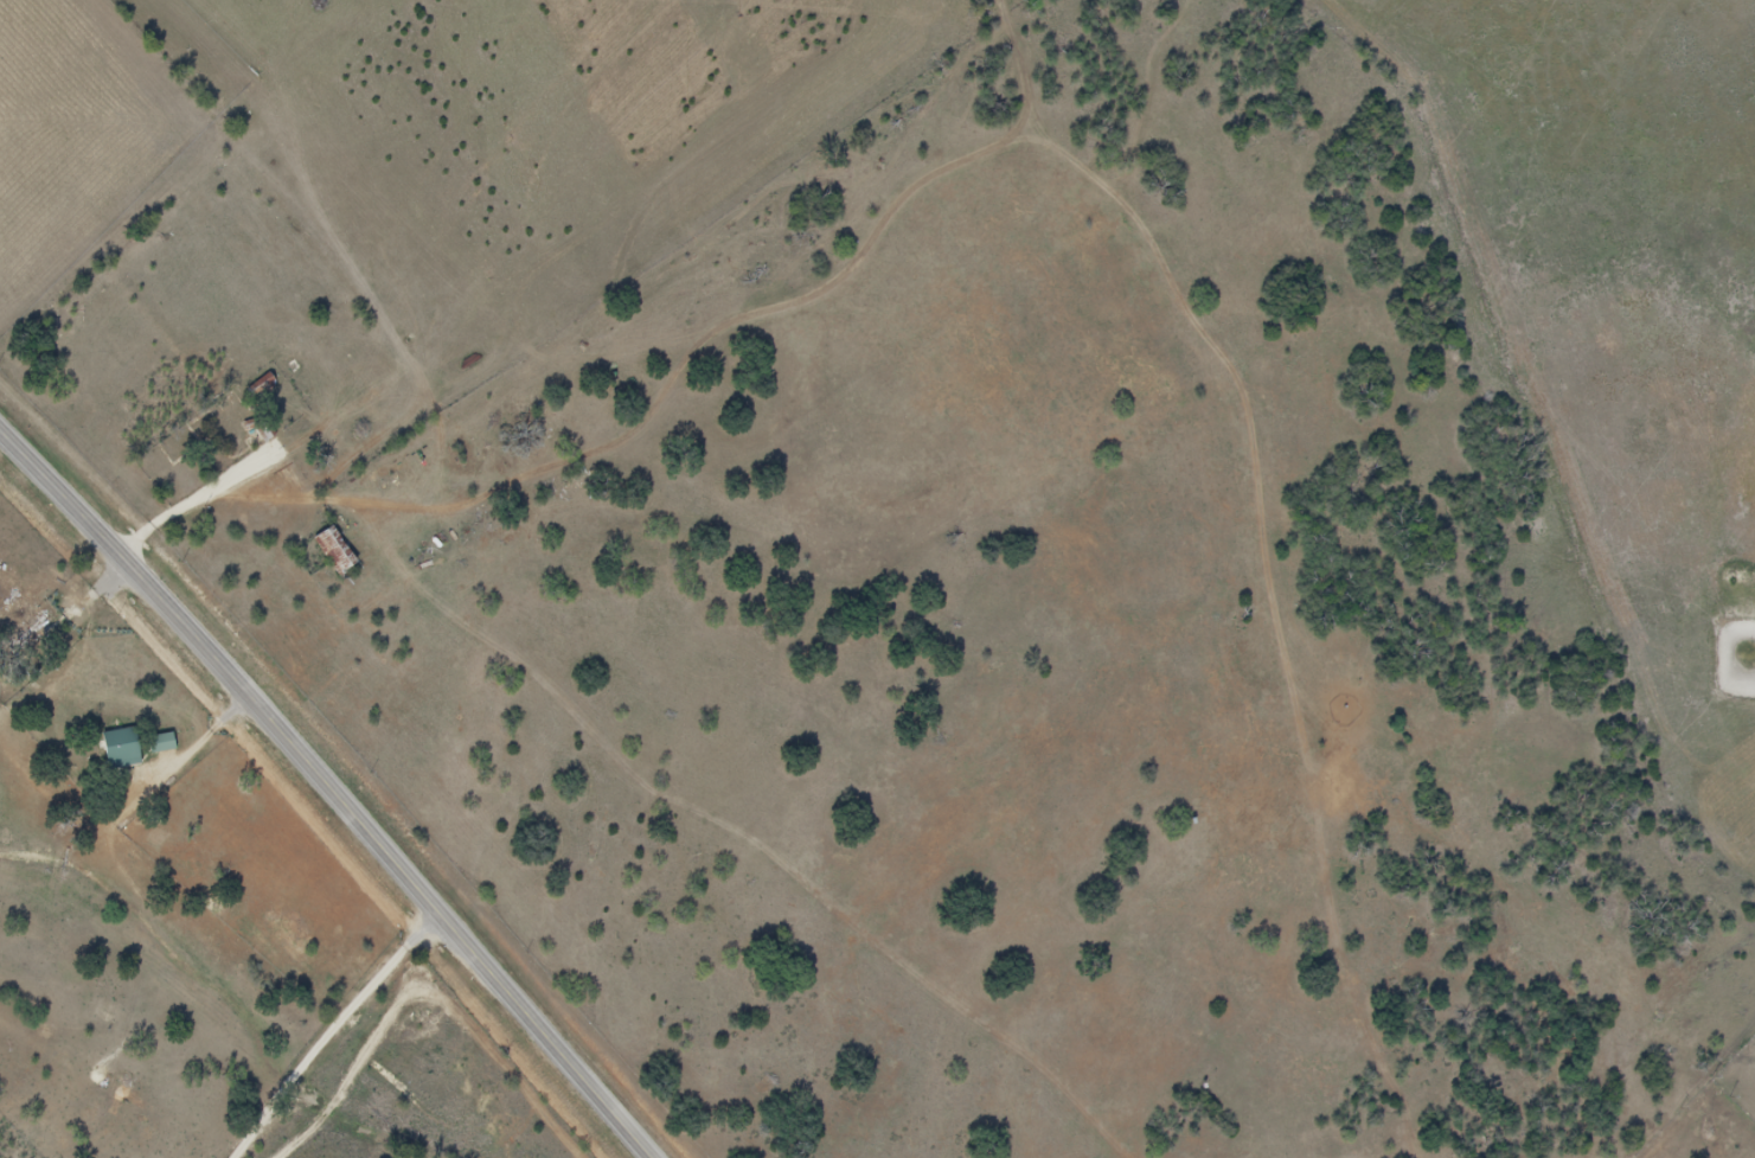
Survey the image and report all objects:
building: (261, 390)
building: (335, 550)
building: (161, 743)
building: (120, 749)
road: (332, 786)
road: (337, 1031)

